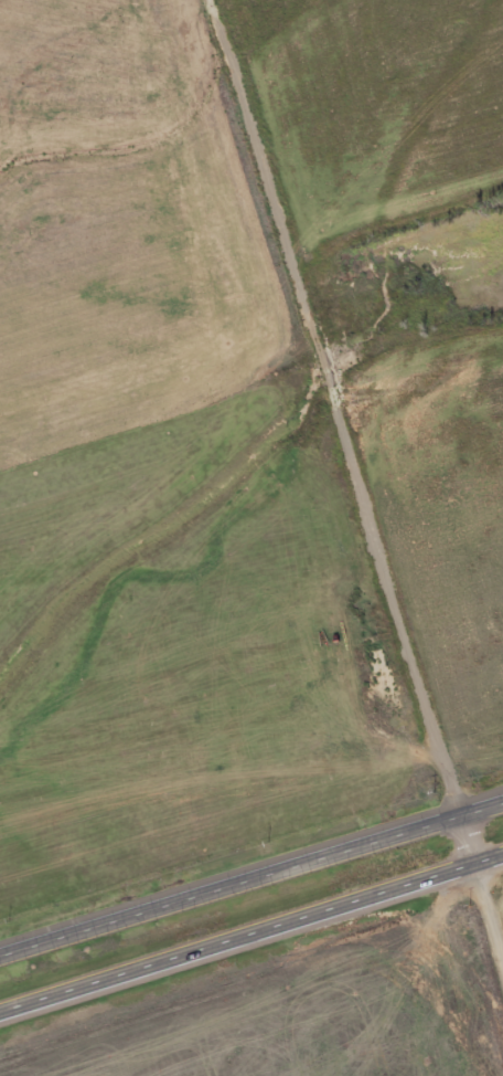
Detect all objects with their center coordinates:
road: (341, 408)
road: (251, 880)
road: (483, 880)
road: (251, 940)

